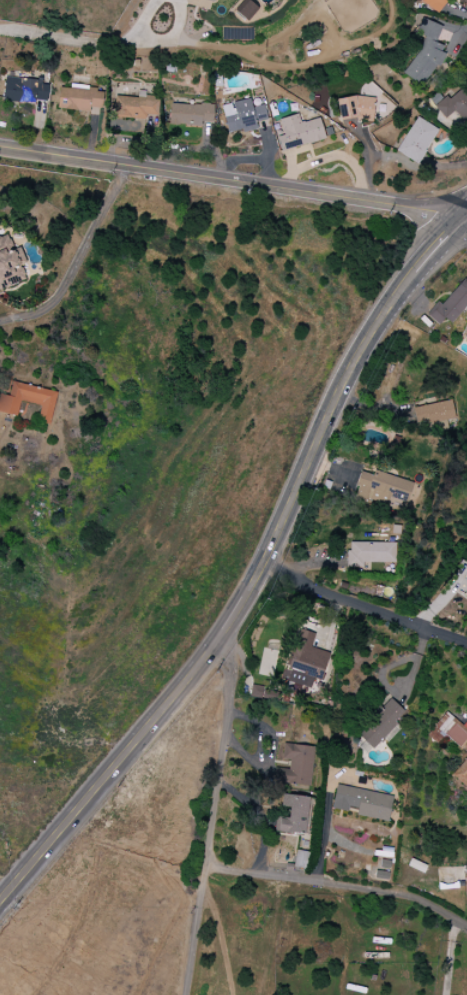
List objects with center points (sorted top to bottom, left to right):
building: (211, 0)
building: (199, 3)
building: (434, 4)
building: (247, 10)
road: (86, 45)
building: (426, 53)
building: (25, 90)
building: (80, 99)
building: (455, 105)
building: (136, 107)
building: (356, 108)
building: (190, 114)
building: (242, 116)
building: (299, 132)
building: (417, 140)
road: (365, 164)
road: (414, 167)
road: (230, 182)
road: (462, 220)
road: (462, 227)
road: (435, 248)
road: (78, 261)
building: (9, 262)
building: (450, 305)
building: (466, 340)
building: (28, 400)
building: (434, 416)
building: (383, 489)
building: (370, 553)
building: (466, 580)
road: (235, 604)
road: (361, 606)
building: (306, 661)
building: (380, 723)
building: (448, 730)
building: (295, 765)
building: (461, 774)
building: (363, 802)
road: (214, 814)
building: (295, 814)
road: (323, 832)
building: (300, 859)
road: (339, 888)
road: (446, 956)

